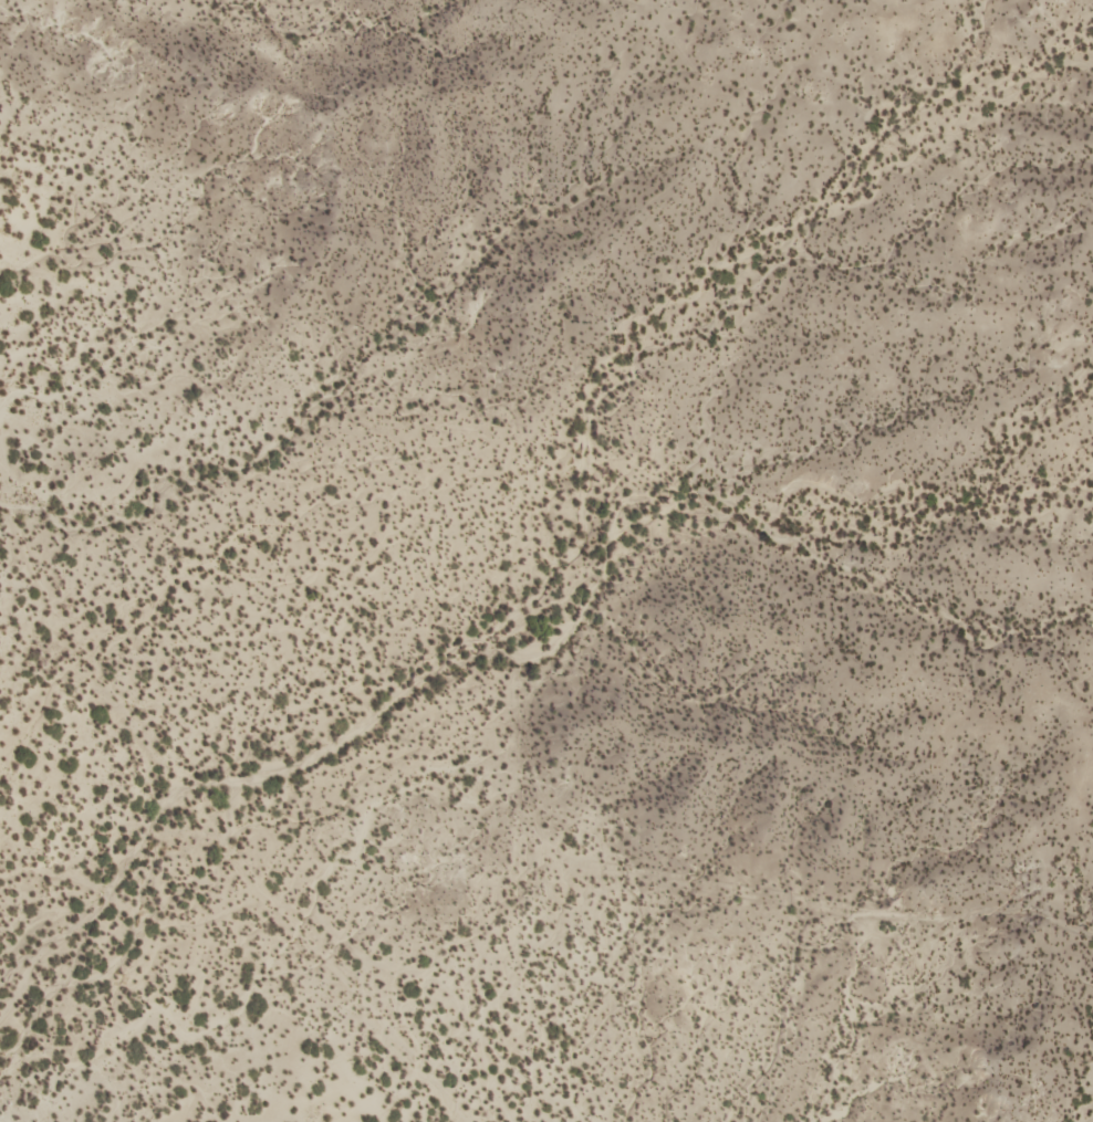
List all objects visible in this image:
road: (155, 777)

